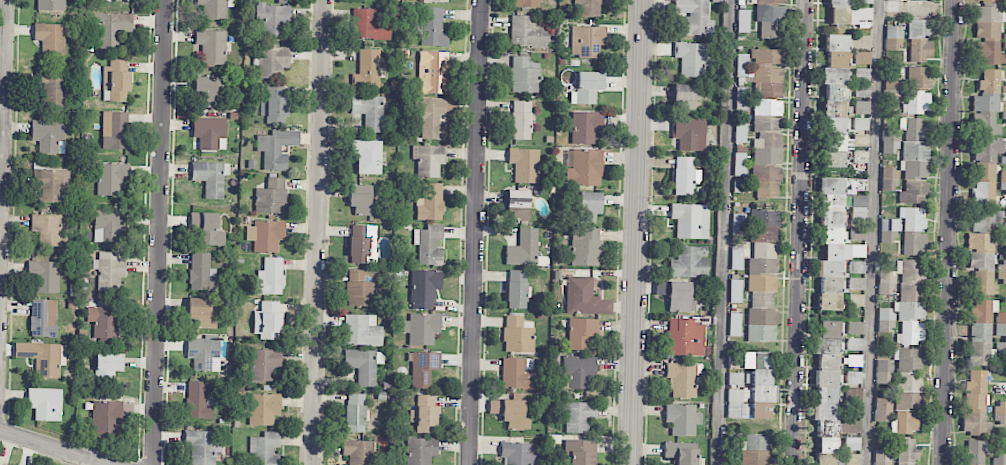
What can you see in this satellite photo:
building: (748, 0)
building: (917, 0)
building: (435, 1)
building: (864, 1)
building: (990, 1)
building: (528, 3)
building: (50, 5)
building: (590, 7)
building: (214, 8)
building: (1005, 11)
building: (838, 12)
building: (864, 13)
building: (694, 17)
building: (274, 18)
building: (770, 18)
building: (743, 21)
building: (369, 25)
building: (111, 27)
building: (432, 27)
building: (919, 28)
building: (528, 32)
building: (50, 38)
building: (893, 38)
building: (587, 41)
building: (1005, 43)
building: (859, 44)
building: (211, 46)
building: (920, 50)
building: (692, 58)
building: (862, 58)
building: (272, 61)
building: (742, 65)
building: (367, 70)
building: (433, 72)
building: (766, 73)
building: (525, 75)
building: (862, 75)
building: (917, 77)
building: (116, 81)
building: (53, 86)
building: (587, 87)
building: (892, 90)
building: (205, 91)
building: (862, 91)
building: (685, 100)
building: (741, 100)
building: (918, 102)
building: (274, 104)
building: (986, 104)
building: (837, 105)
building: (861, 107)
building: (369, 111)
building: (431, 117)
building: (1004, 118)
building: (521, 120)
building: (861, 124)
building: (586, 127)
building: (115, 130)
building: (209, 133)
building: (766, 133)
building: (689, 134)
building: (49, 136)
building: (914, 139)
building: (890, 142)
building: (276, 148)
building: (367, 156)
building: (860, 157)
building: (428, 160)
road: (4, 161)
building: (525, 165)
building: (740, 166)
building: (585, 168)
building: (985, 171)
building: (684, 176)
building: (210, 177)
building: (889, 178)
building: (111, 179)
building: (766, 181)
building: (914, 182)
building: (52, 183)
building: (1003, 183)
building: (271, 196)
building: (360, 199)
building: (430, 202)
building: (518, 204)
building: (589, 206)
building: (858, 210)
building: (912, 218)
building: (691, 220)
building: (737, 224)
building: (109, 225)
building: (207, 229)
building: (46, 230)
building: (986, 230)
building: (888, 231)
road: (160, 232)
road: (314, 232)
road: (477, 232)
road: (638, 232)
road: (723, 232)
road: (800, 232)
road: (874, 232)
road: (949, 232)
building: (266, 235)
building: (914, 243)
building: (362, 244)
building: (429, 244)
building: (830, 244)
building: (585, 246)
building: (523, 249)
building: (849, 252)
building: (763, 258)
building: (690, 262)
building: (857, 267)
building: (109, 271)
building: (1002, 272)
building: (201, 273)
building: (982, 273)
building: (44, 276)
building: (270, 277)
building: (910, 279)
building: (856, 283)
building: (886, 283)
building: (424, 288)
building: (359, 289)
building: (516, 289)
building: (735, 291)
building: (677, 296)
building: (584, 298)
building: (856, 300)
building: (909, 310)
building: (203, 312)
building: (43, 318)
building: (885, 320)
building: (105, 321)
building: (268, 321)
building: (734, 324)
building: (1000, 324)
building: (761, 326)
building: (422, 328)
building: (855, 328)
building: (362, 330)
building: (981, 332)
building: (582, 333)
building: (910, 333)
building: (517, 335)
building: (708, 336)
building: (685, 338)
building: (855, 344)
building: (204, 353)
building: (43, 358)
building: (855, 360)
building: (907, 360)
building: (265, 364)
building: (364, 365)
building: (883, 366)
building: (108, 367)
building: (424, 368)
building: (827, 370)
building: (578, 371)
building: (519, 374)
building: (682, 379)
building: (908, 382)
building: (755, 391)
building: (198, 401)
building: (45, 404)
building: (975, 405)
building: (263, 409)
building: (883, 409)
building: (907, 412)
building: (354, 413)
building: (510, 413)
building: (1000, 413)
building: (579, 416)
building: (106, 417)
building: (424, 419)
building: (683, 419)
building: (849, 426)
building: (826, 442)
building: (852, 443)
building: (201, 447)
road: (51, 448)
building: (265, 448)
building: (420, 451)
building: (358, 452)
building: (579, 452)
building: (907, 452)
building: (517, 453)
building: (682, 453)
building: (973, 453)
building: (755, 457)
building: (882, 457)
building: (999, 459)

